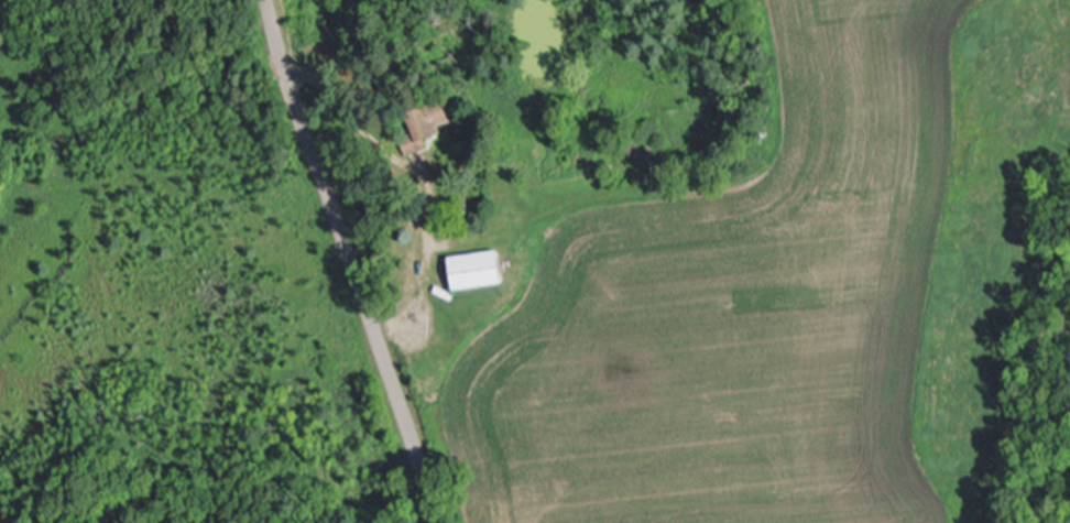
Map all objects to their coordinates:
building: (426, 126)
road: (347, 261)
building: (479, 272)

